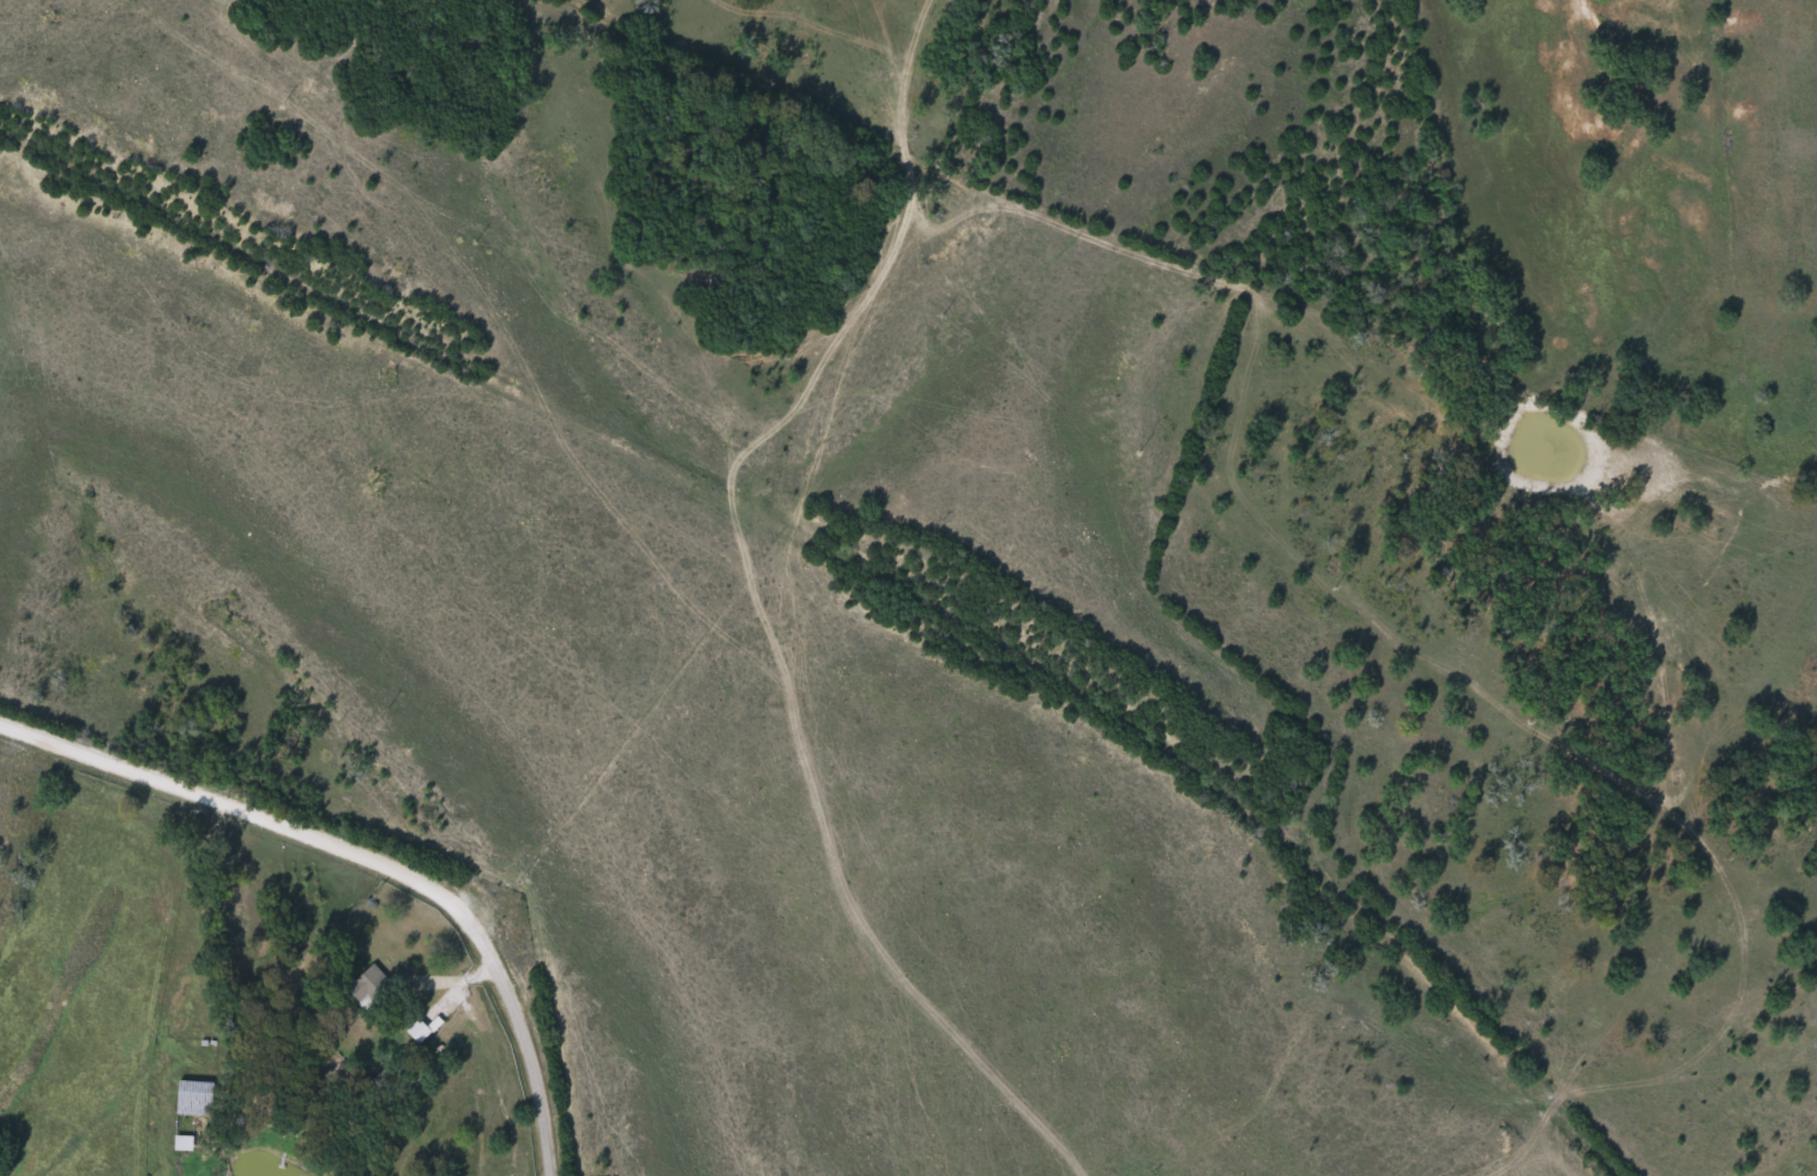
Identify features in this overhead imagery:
road: (714, 470)
railway: (891, 565)
road: (241, 816)
building: (372, 985)
road: (515, 1047)
building: (197, 1094)

